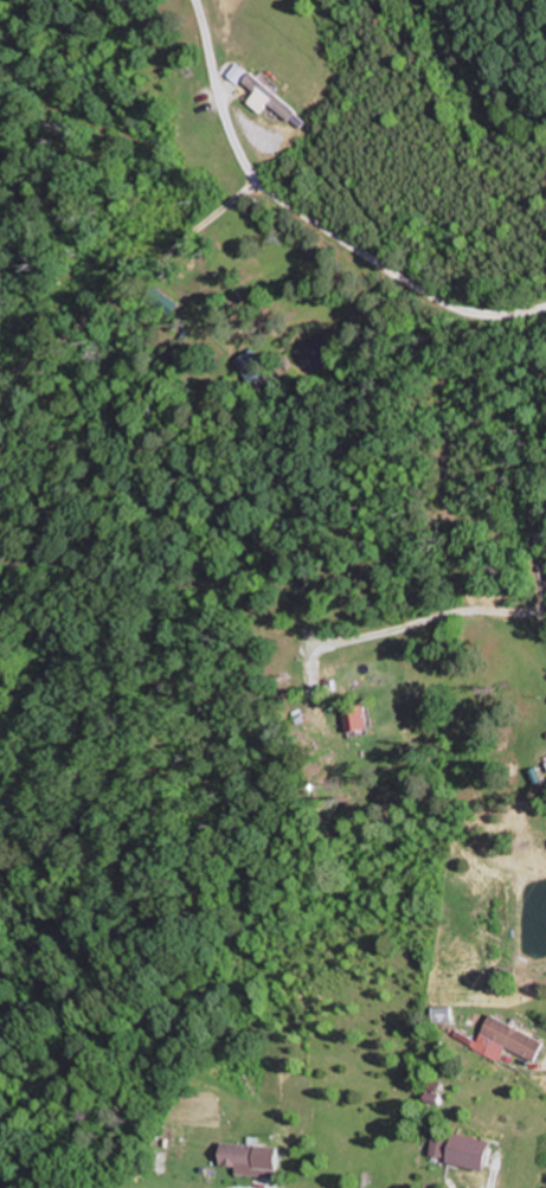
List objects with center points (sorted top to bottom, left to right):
building: (240, 72)
building: (275, 97)
road: (311, 220)
road: (135, 290)
building: (257, 367)
road: (528, 548)
road: (431, 619)
building: (361, 720)
building: (509, 1040)
building: (245, 1155)
road: (155, 1186)

